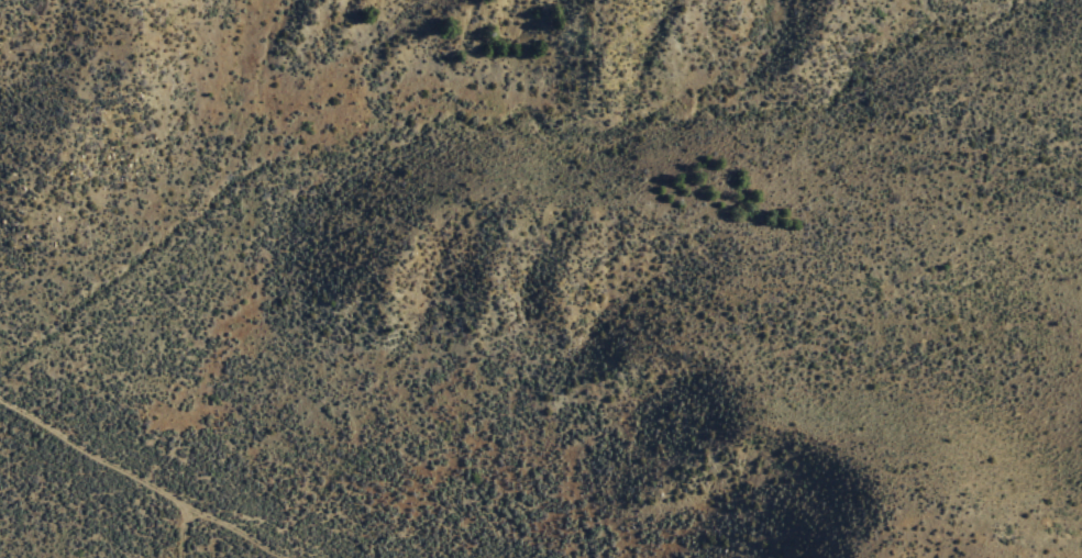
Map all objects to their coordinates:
crop: (140, 459)
road: (136, 482)
road: (178, 532)

